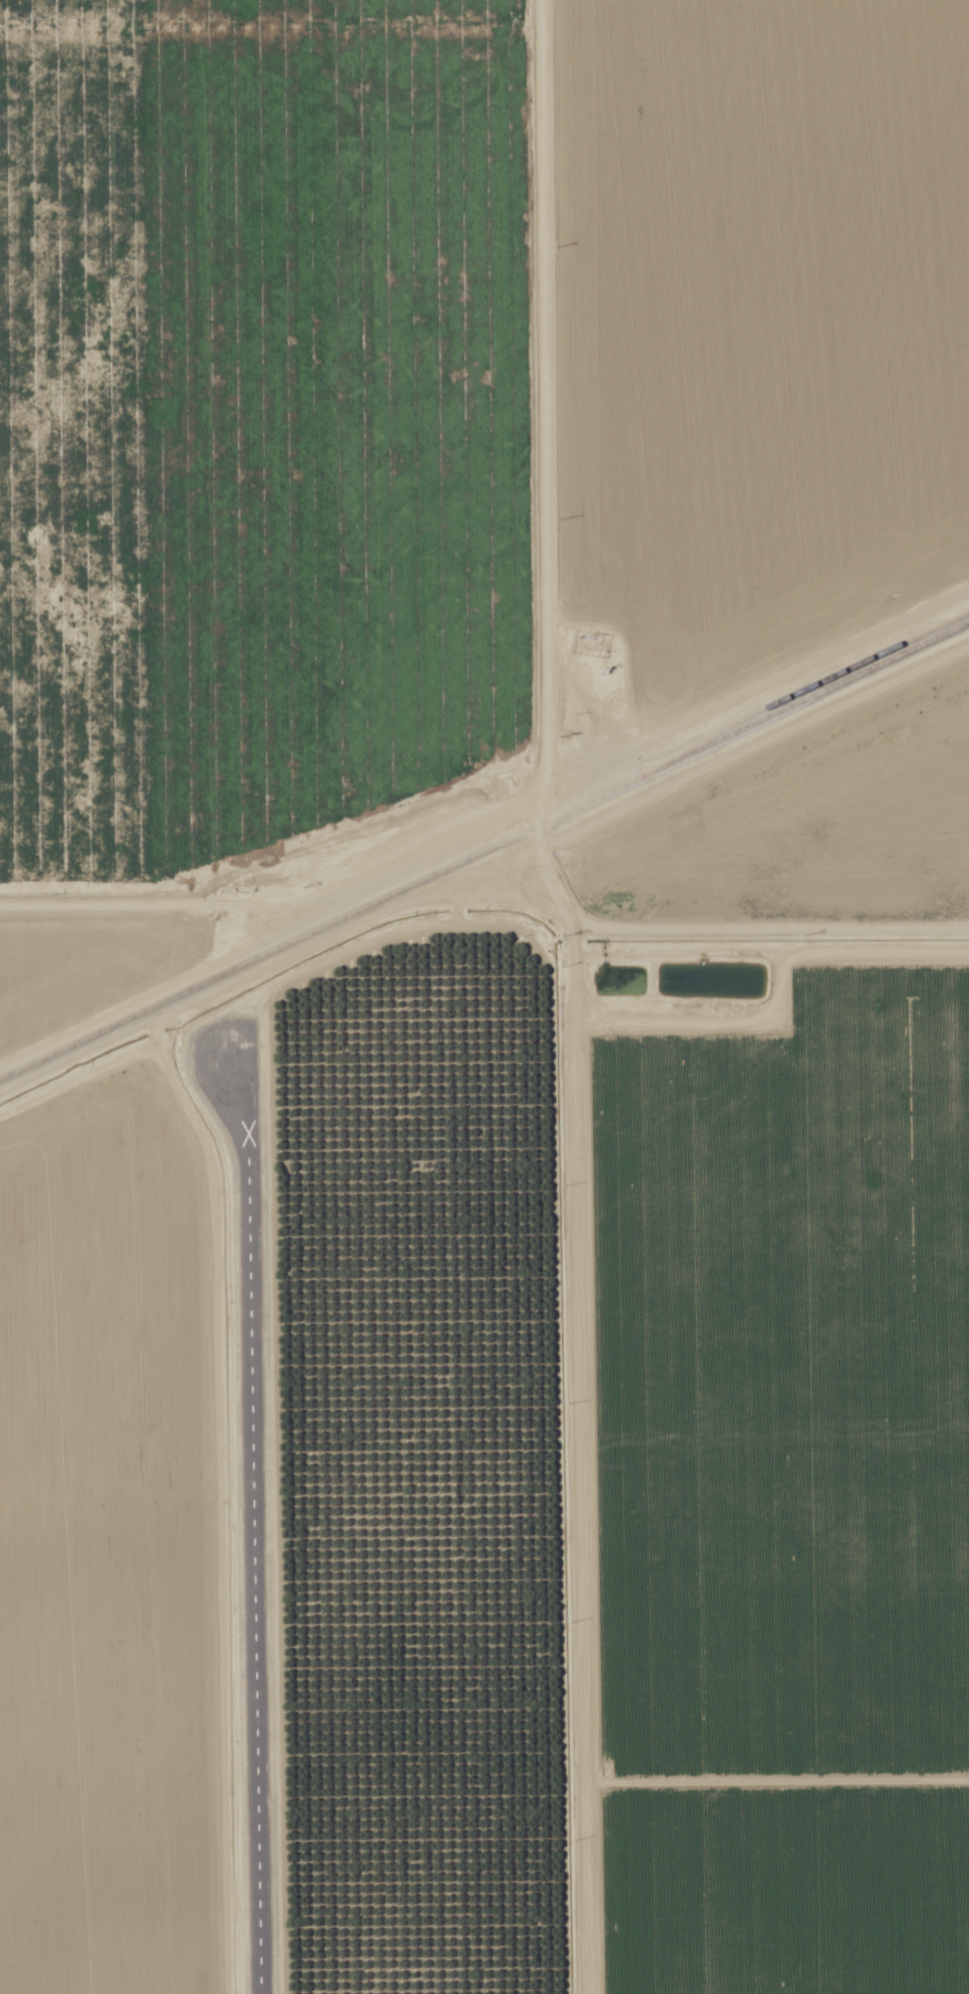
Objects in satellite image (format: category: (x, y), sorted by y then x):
crop: (745, 338)
crop: (265, 437)
railway: (813, 686)
road: (639, 754)
crop: (808, 828)
railway: (484, 853)
road: (156, 907)
road: (770, 937)
crop: (101, 947)
road: (571, 993)
crop: (760, 1473)
airport runway: (248, 1514)
crop: (110, 1540)

